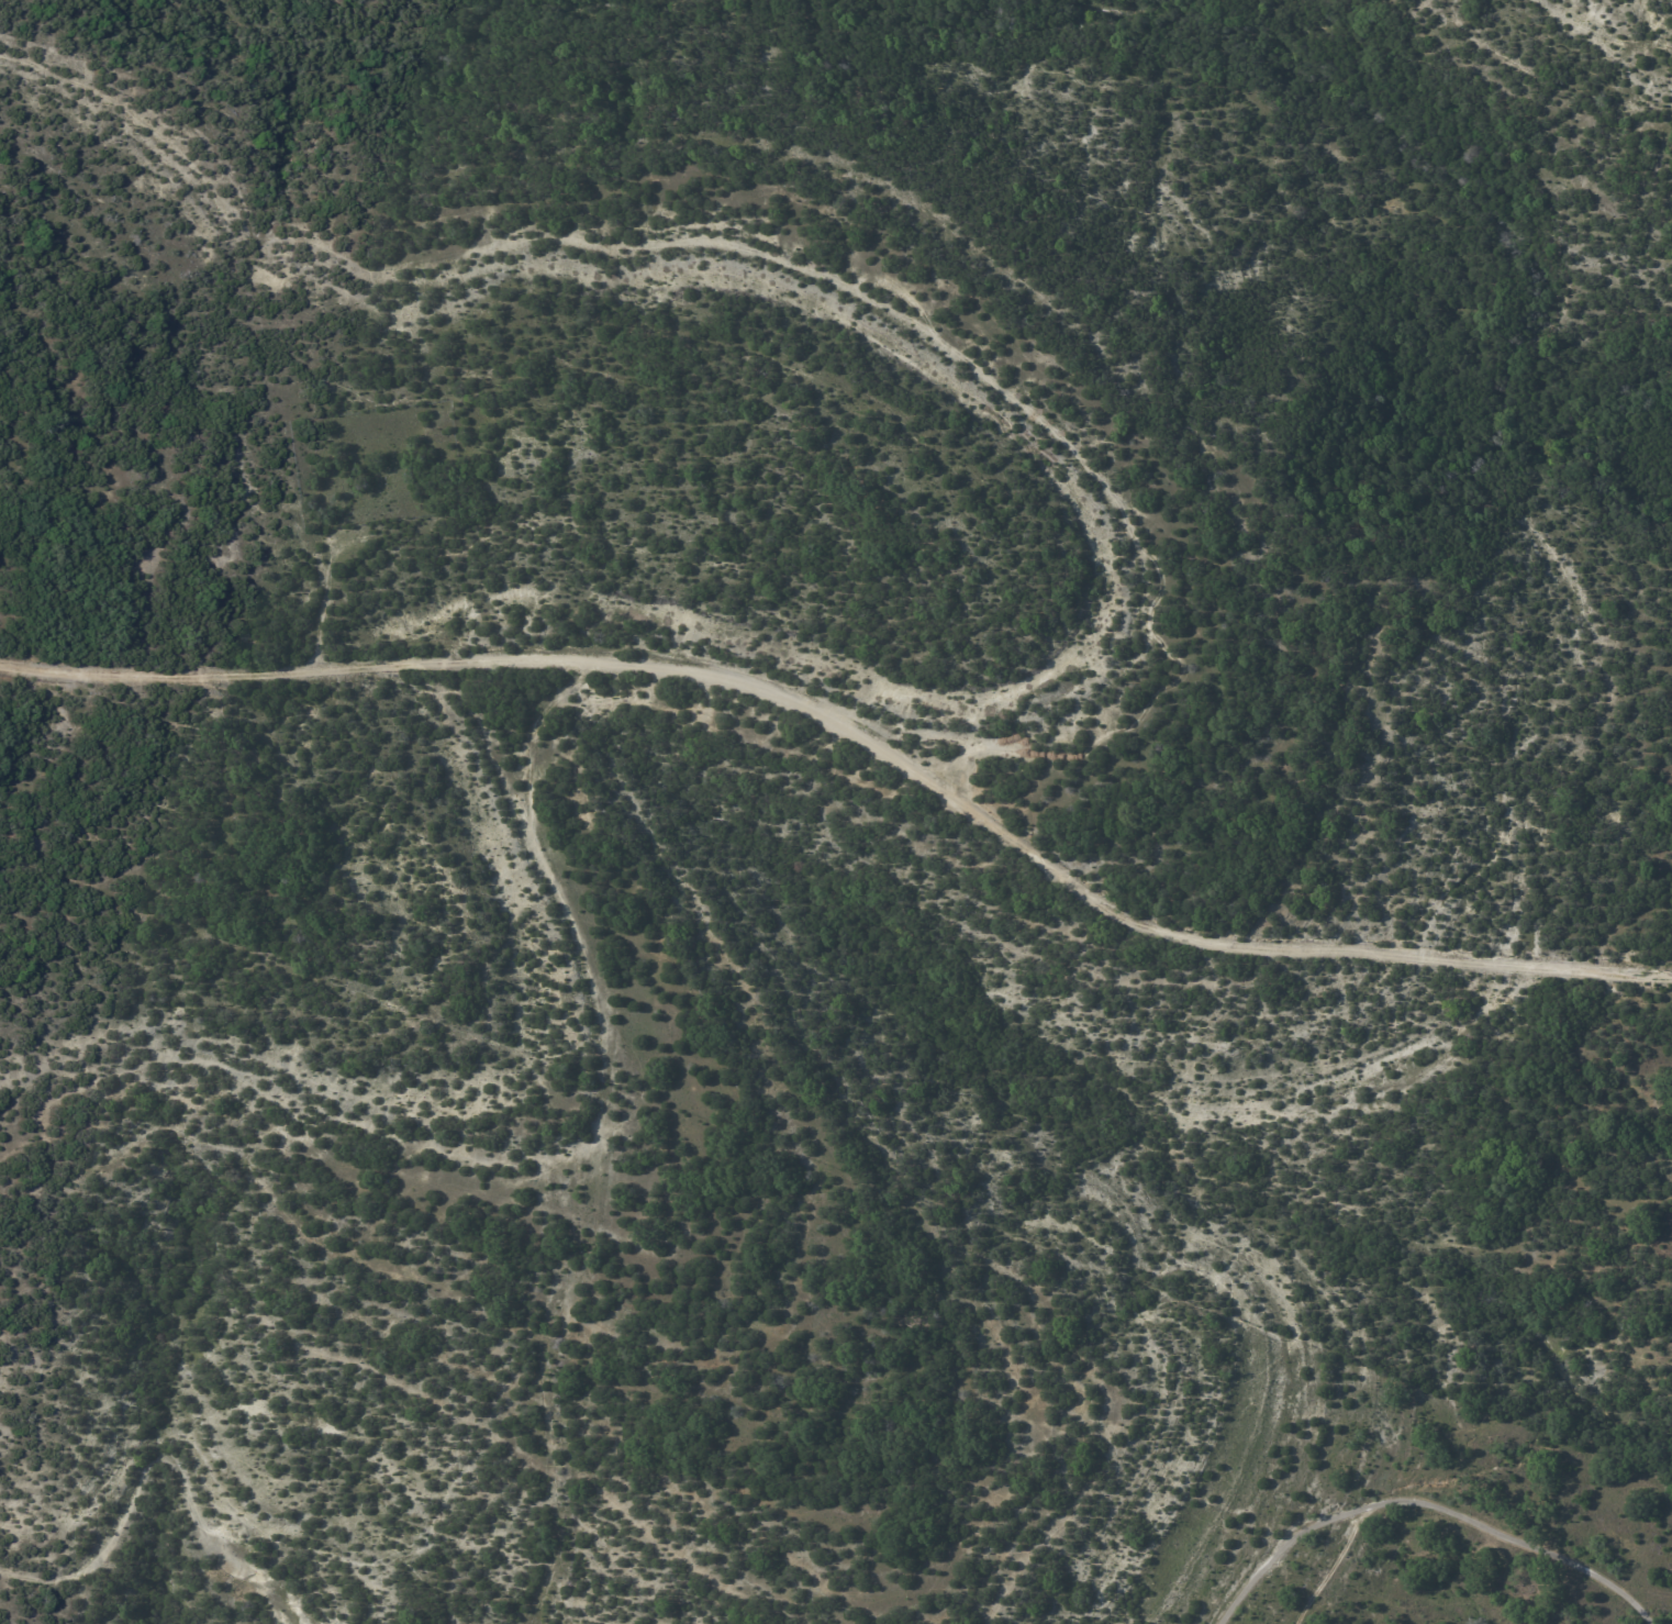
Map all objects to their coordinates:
park: (376, 465)
road: (859, 743)
road: (1426, 1504)

